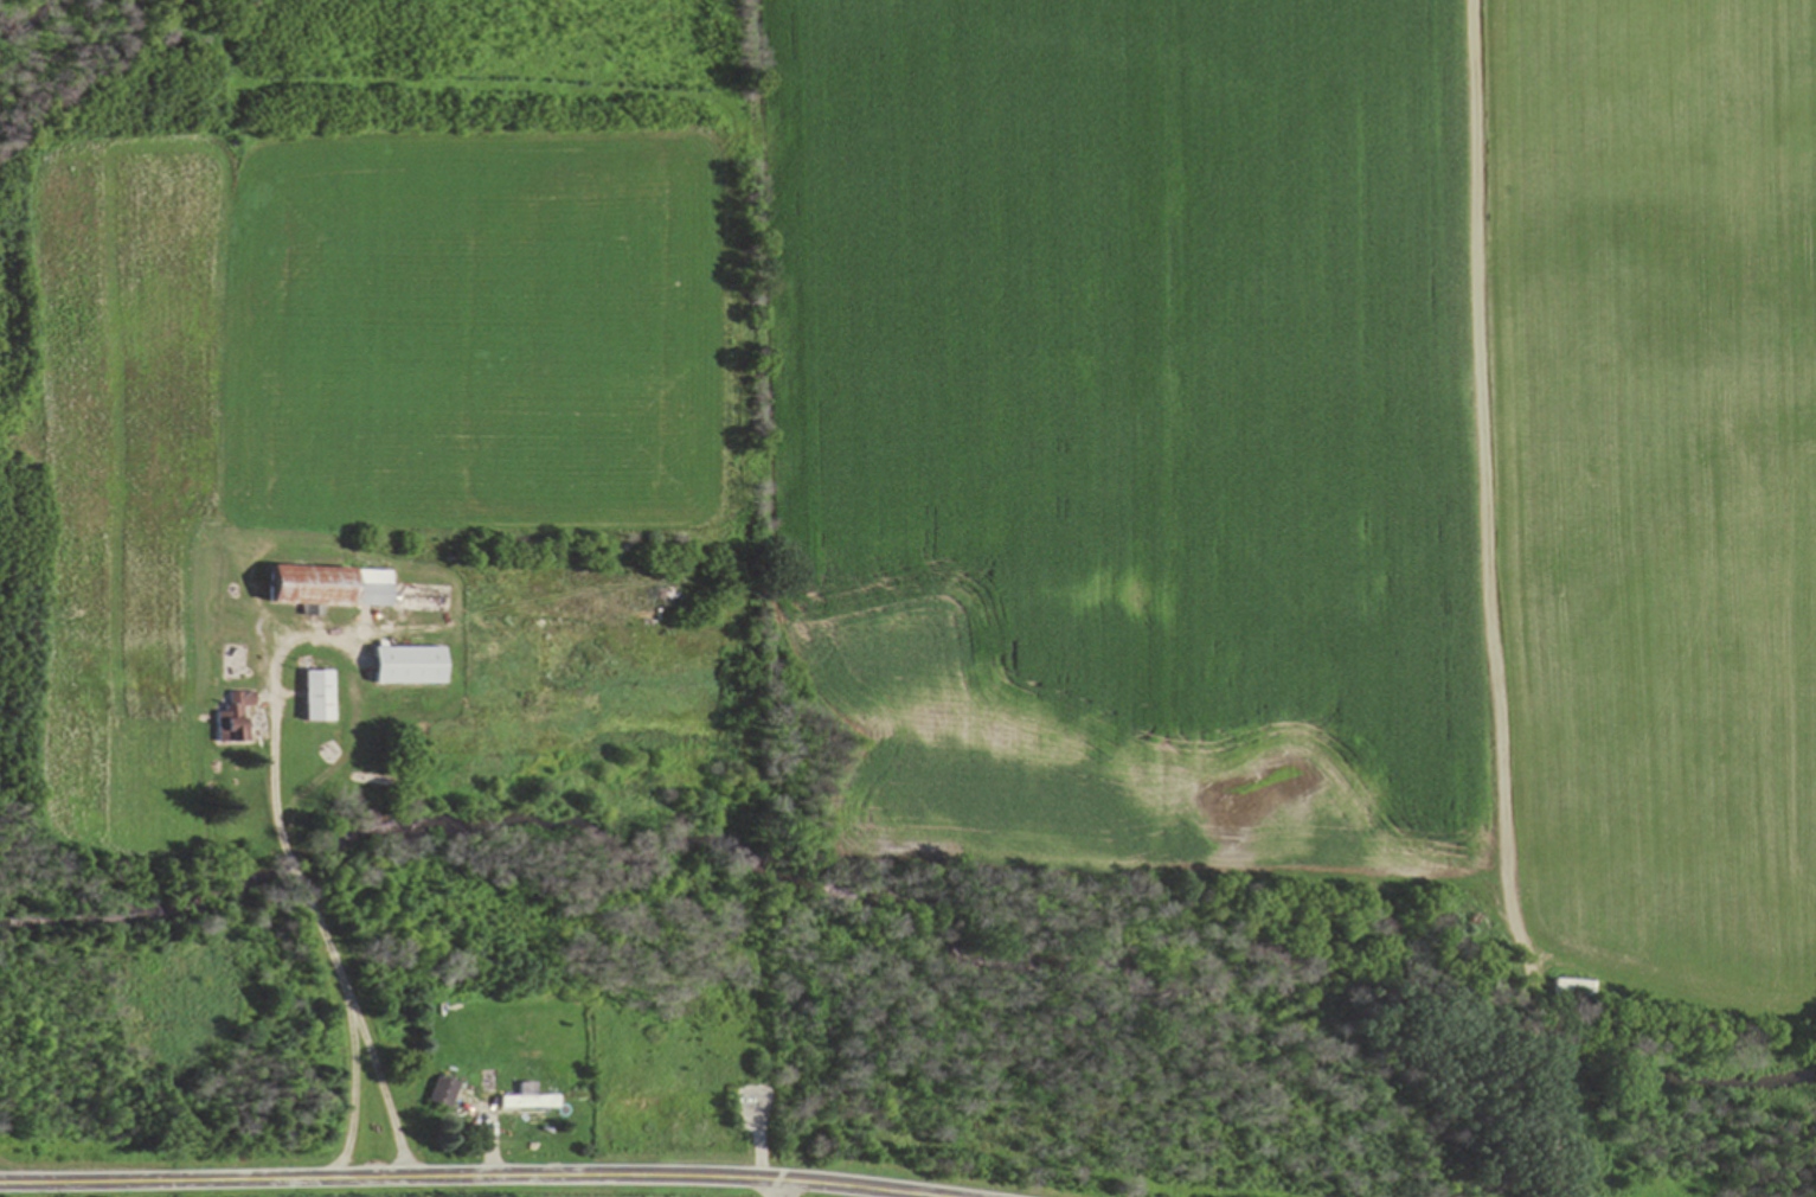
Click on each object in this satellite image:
building: (332, 587)
building: (409, 665)
building: (321, 696)
building: (236, 718)
building: (444, 1093)
building: (530, 1102)
road: (464, 1177)
road: (779, 1189)

